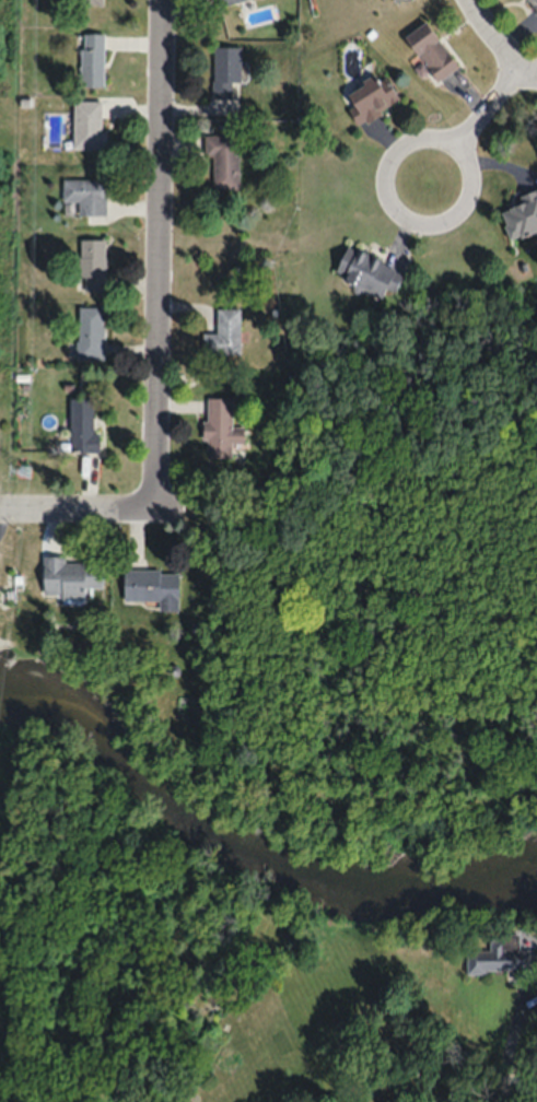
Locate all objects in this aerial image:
building: (395, 0)
building: (87, 1)
building: (222, 1)
building: (534, 3)
road: (471, 9)
road: (504, 48)
building: (430, 51)
building: (91, 59)
building: (224, 71)
building: (370, 97)
road: (487, 104)
building: (87, 125)
road: (393, 152)
building: (223, 162)
building: (86, 197)
building: (522, 216)
road: (162, 256)
building: (91, 265)
building: (366, 272)
building: (90, 332)
building: (224, 333)
building: (82, 425)
building: (220, 427)
power tower: (26, 473)
road: (107, 514)
building: (69, 576)
building: (152, 586)
park: (299, 825)
river: (248, 841)
building: (501, 957)

